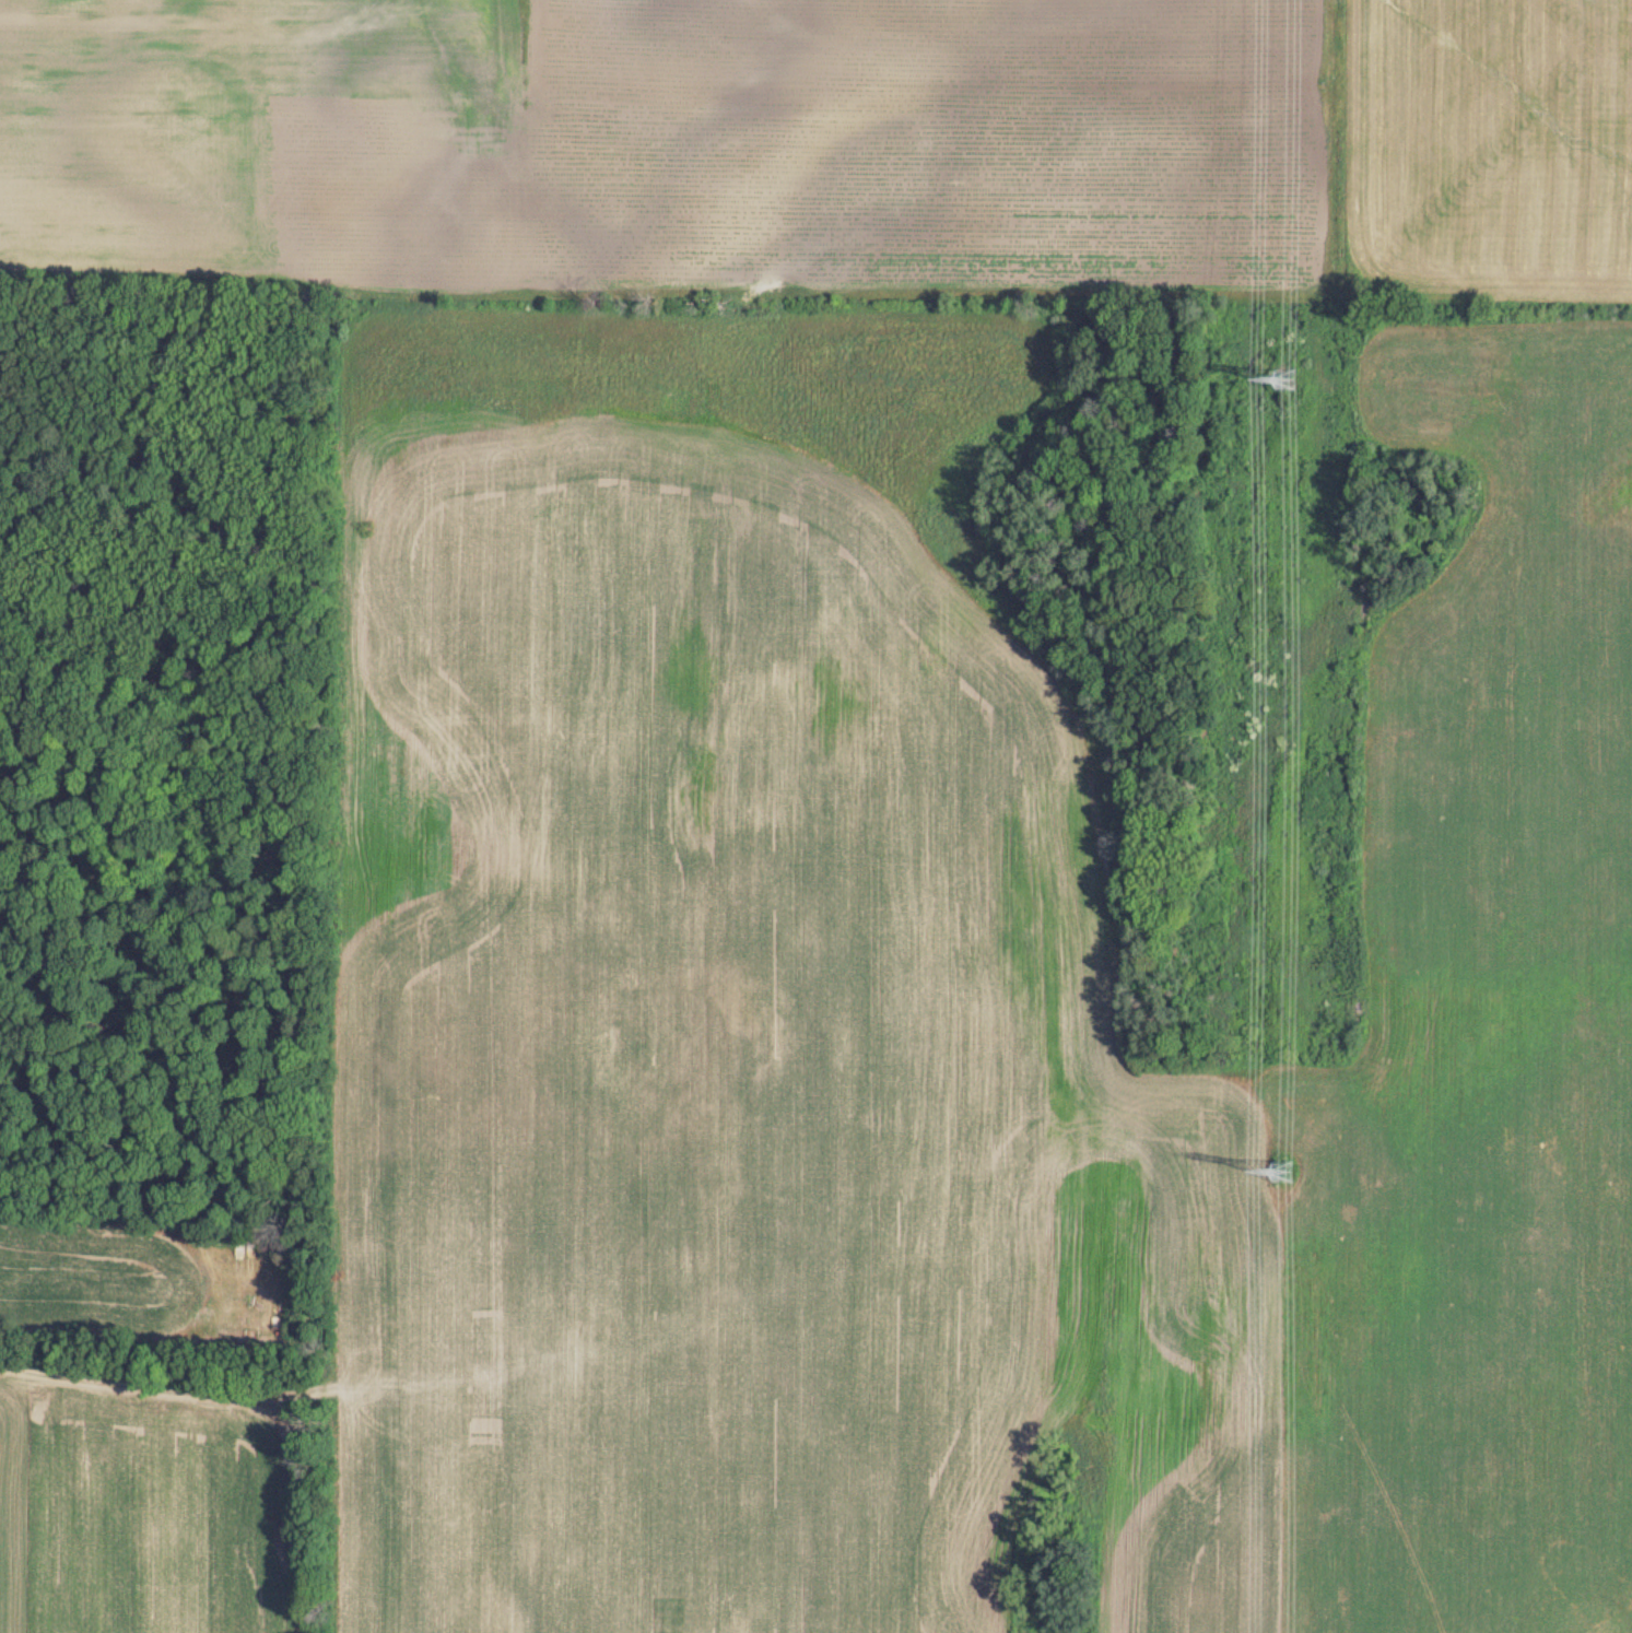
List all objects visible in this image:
power tower: (1293, 383)
power tower: (1284, 1174)

